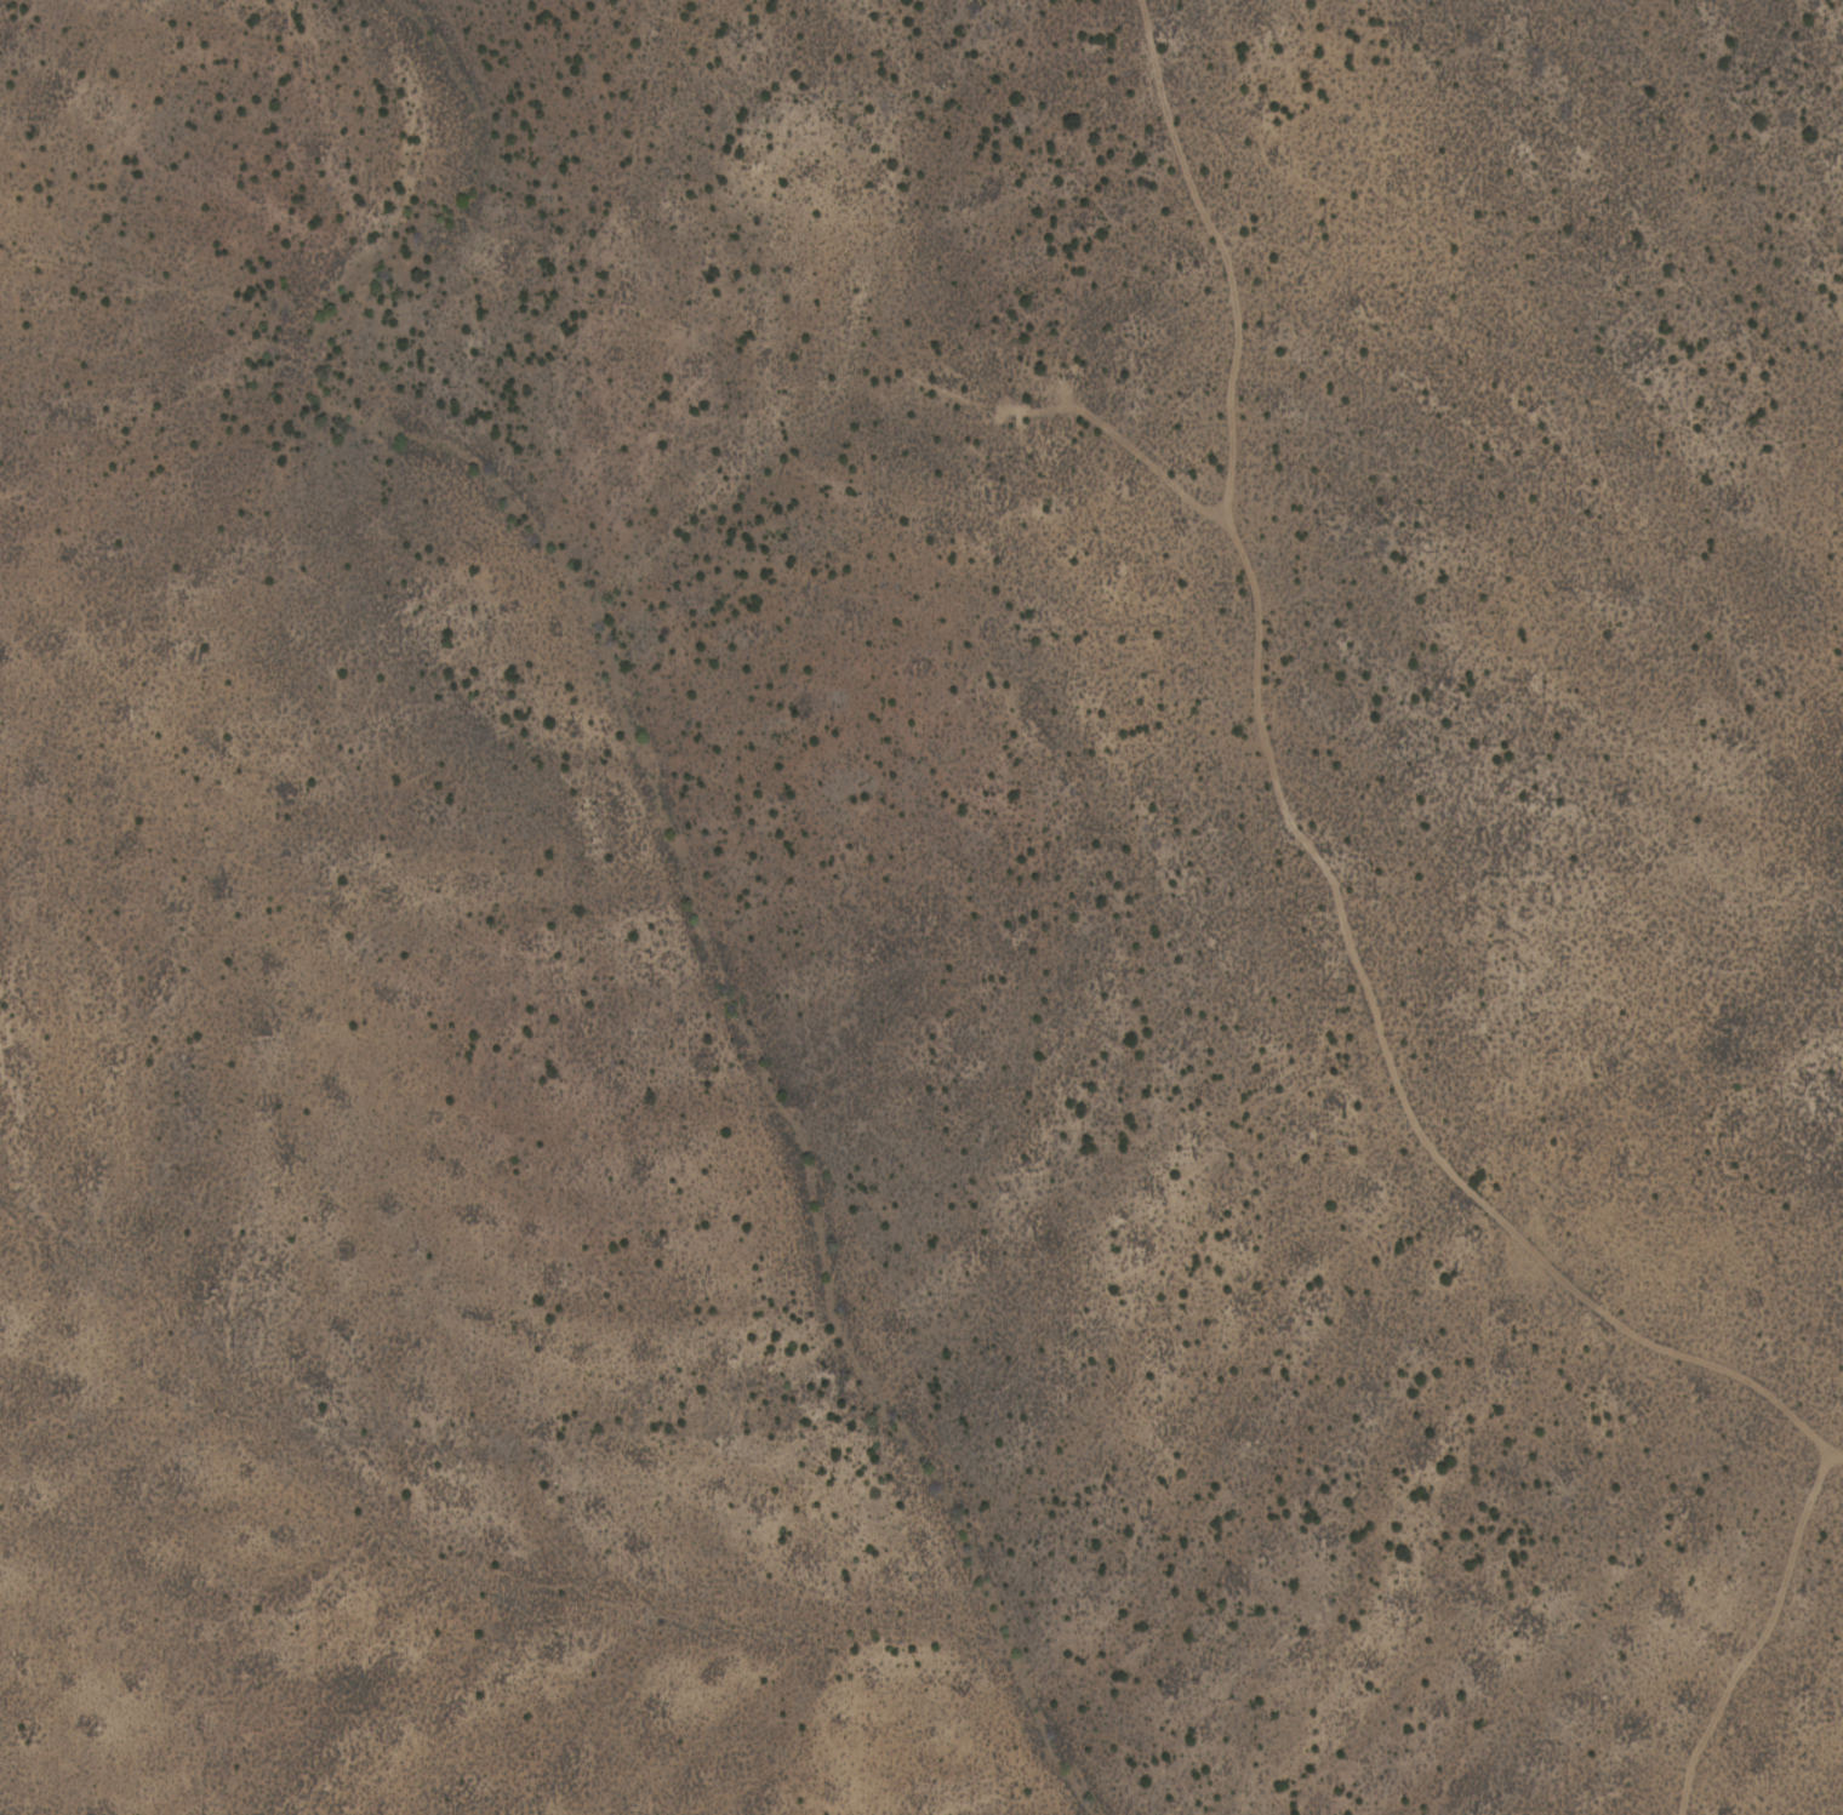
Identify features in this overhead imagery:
road: (1334, 777)

